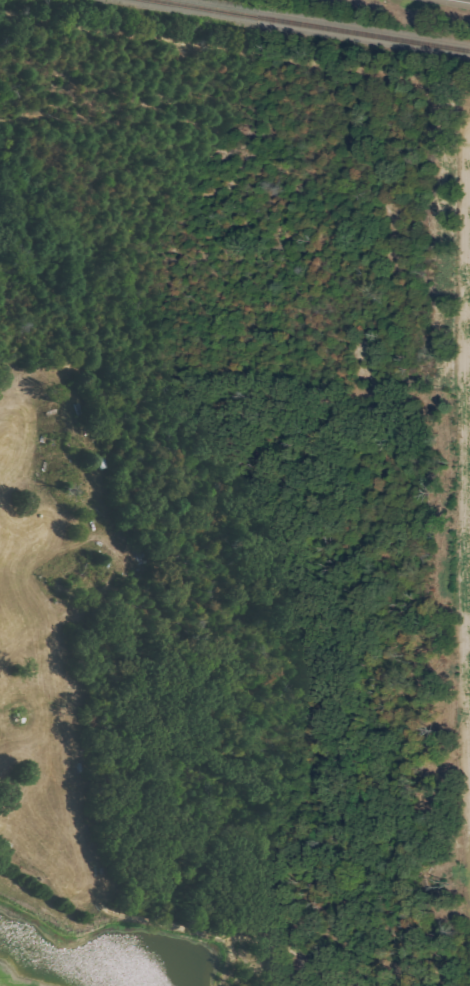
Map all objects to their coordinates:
railway: (315, 24)

